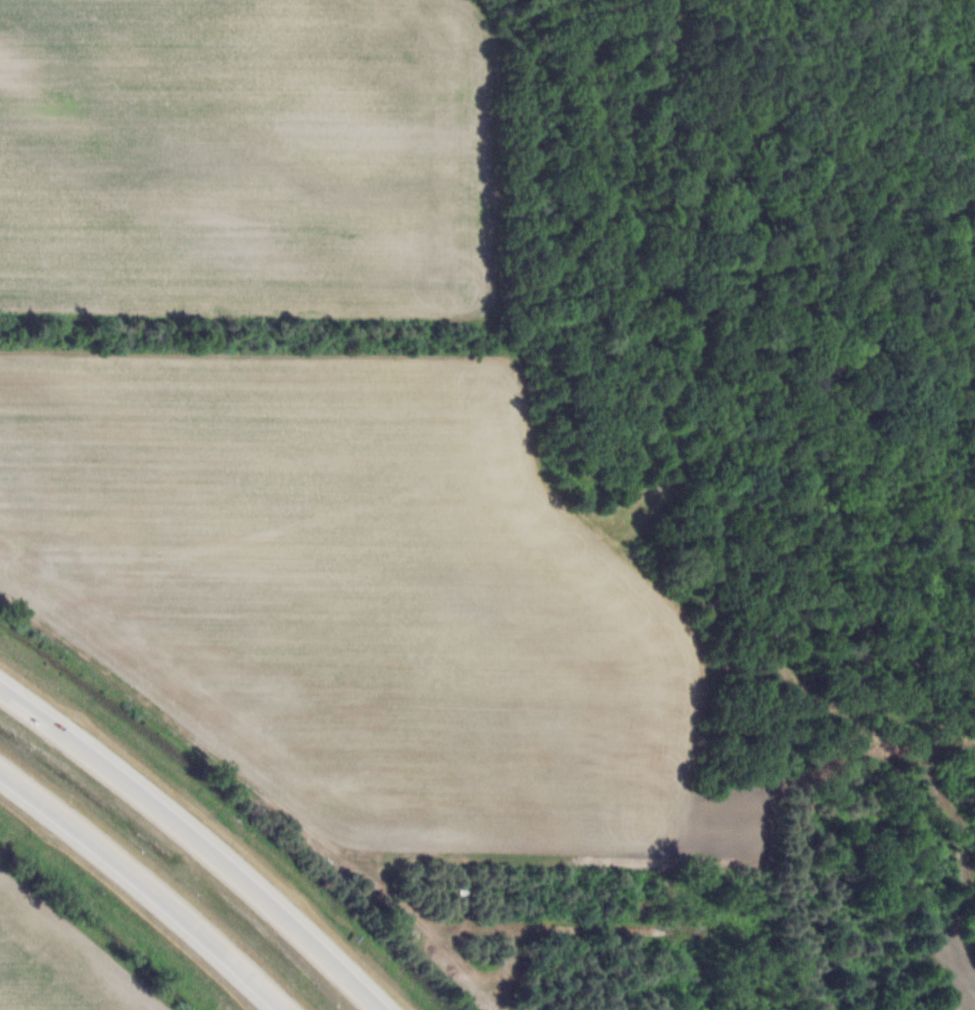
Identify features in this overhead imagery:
road: (197, 840)
road: (146, 884)

